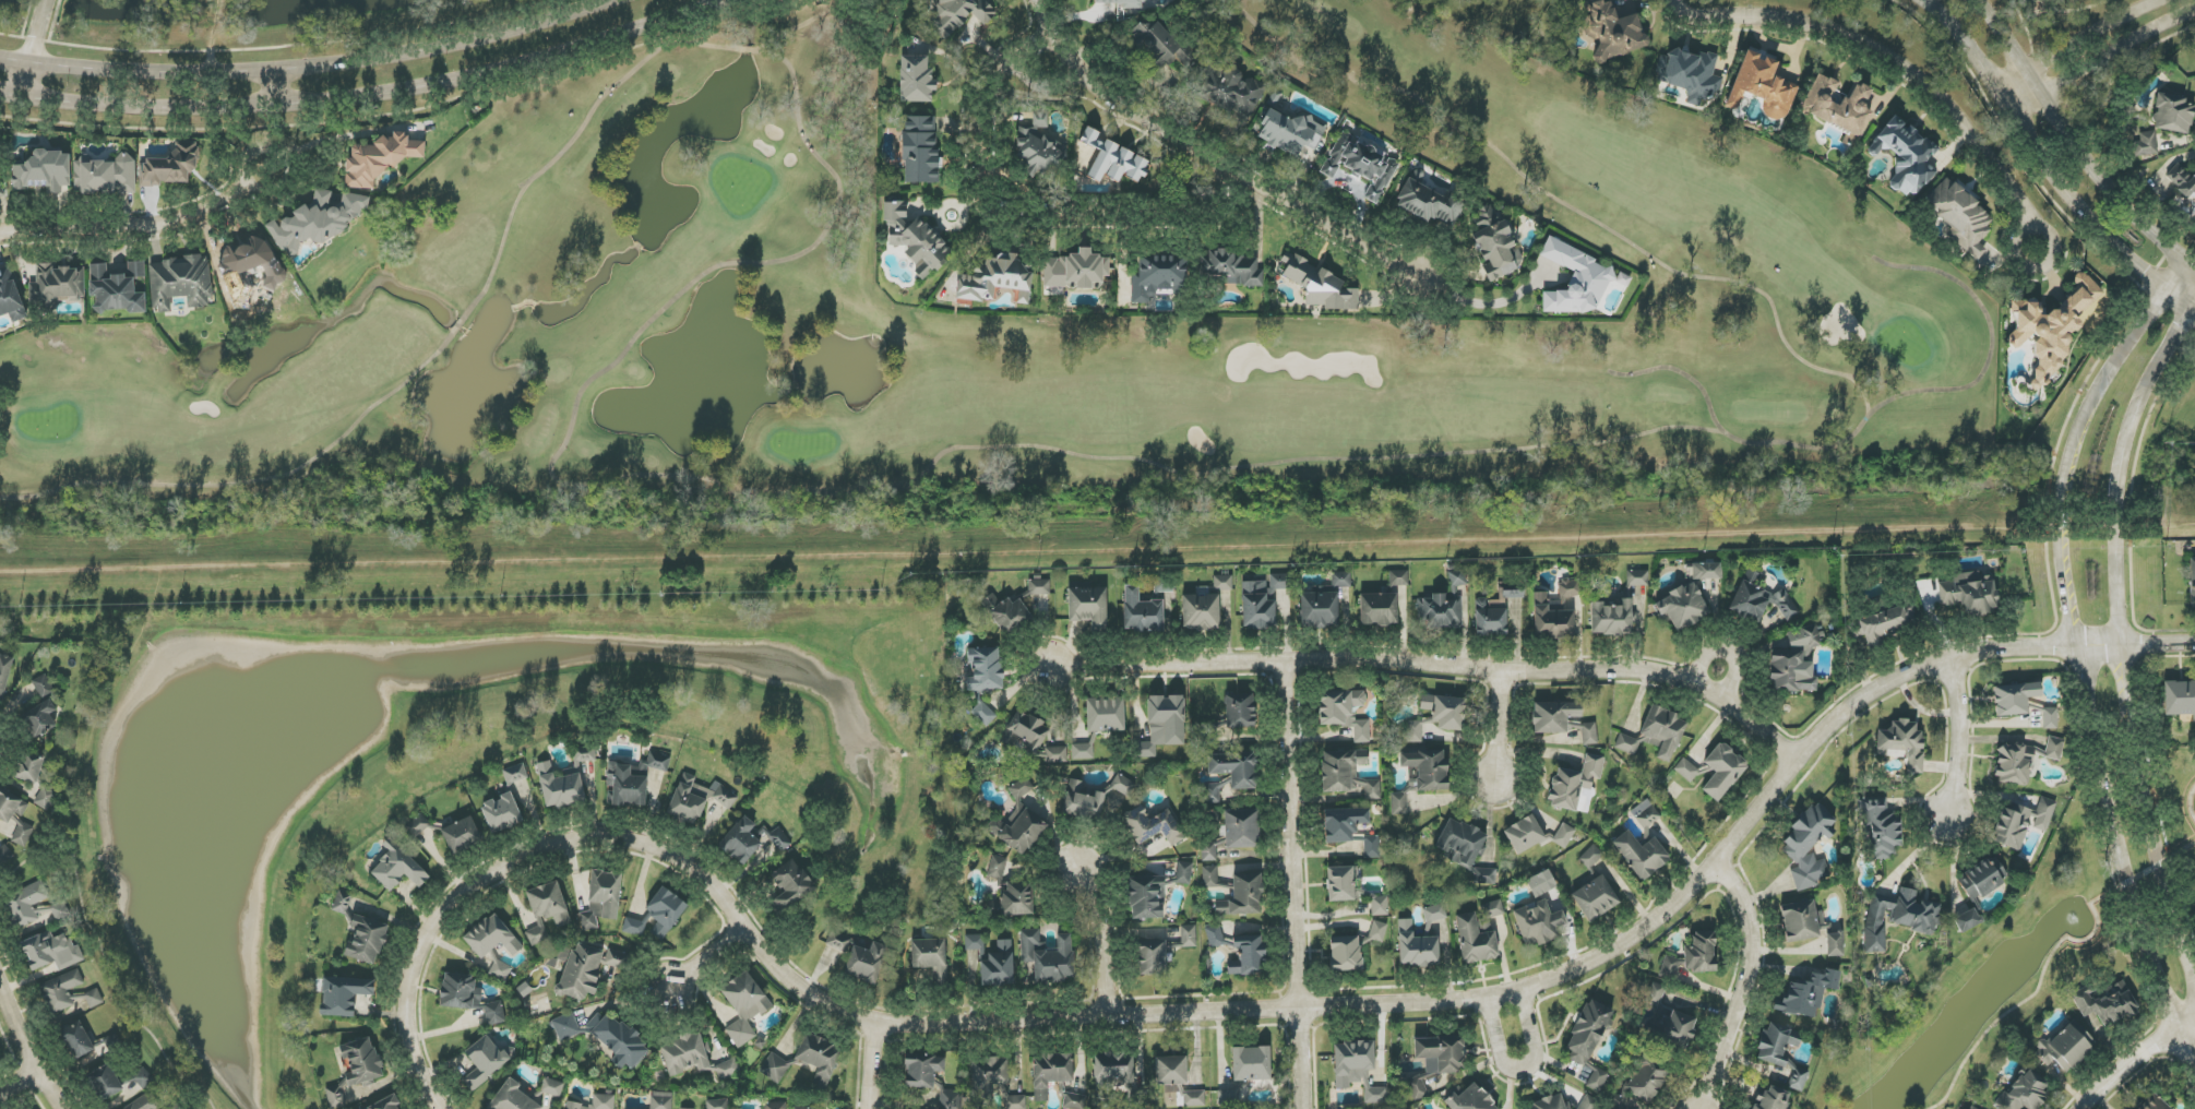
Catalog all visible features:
building: (1121, 3)
park: (294, 12)
building: (961, 14)
building: (1612, 31)
road: (213, 36)
road: (2080, 40)
building: (1158, 46)
road: (35, 48)
road: (1883, 59)
road: (2103, 59)
road: (312, 65)
building: (1690, 74)
building: (916, 79)
road: (283, 83)
building: (1763, 86)
road: (371, 92)
building: (1839, 105)
building: (2173, 114)
building: (1289, 132)
road: (351, 136)
building: (2145, 144)
building: (1038, 146)
road: (2073, 146)
building: (920, 150)
road: (291, 156)
building: (1906, 156)
building: (379, 159)
building: (1114, 160)
road: (1206, 162)
building: (170, 166)
building: (1362, 166)
road: (2048, 167)
building: (44, 171)
building: (1418, 175)
building: (106, 176)
building: (2182, 180)
building: (1, 192)
building: (1428, 203)
building: (3, 205)
building: (1961, 217)
building: (317, 220)
road: (1017, 222)
road: (127, 230)
building: (914, 239)
building: (1495, 245)
building: (249, 266)
building: (1231, 267)
road: (2037, 267)
building: (1076, 270)
building: (1158, 277)
building: (995, 279)
building: (1575, 279)
building: (180, 282)
building: (1320, 285)
building: (57, 286)
building: (118, 288)
building: (10, 298)
road: (1486, 303)
building: (2055, 325)
park: (1017, 326)
building: (1706, 571)
building: (1398, 579)
building: (1457, 579)
building: (1637, 579)
building: (1341, 580)
building: (2192, 582)
building: (1222, 583)
building: (1039, 587)
building: (1969, 593)
building: (1264, 600)
building: (1761, 604)
building: (1088, 607)
building: (1681, 607)
building: (1319, 609)
building: (1379, 609)
building: (1440, 611)
building: (1142, 612)
building: (1201, 612)
building: (1555, 612)
building: (1006, 613)
building: (1612, 619)
building: (1880, 625)
road: (2118, 629)
road: (1727, 651)
road: (2075, 658)
building: (1794, 660)
road: (1440, 667)
building: (983, 669)
building: (4, 673)
building: (43, 687)
building: (2014, 697)
building: (2179, 697)
building: (1240, 711)
building: (1444, 711)
building: (1344, 712)
building: (985, 714)
building: (1105, 714)
building: (1553, 716)
building: (2050, 718)
building: (39, 720)
building: (1164, 724)
road: (1502, 726)
building: (1413, 731)
building: (1025, 732)
building: (1589, 734)
building: (1656, 735)
road: (1958, 737)
building: (1902, 744)
building: (2054, 749)
building: (1083, 751)
building: (584, 754)
building: (1057, 754)
building: (2014, 764)
building: (29, 767)
building: (1236, 768)
building: (1686, 771)
building: (1722, 771)
building: (1347, 773)
building: (515, 774)
building: (632, 780)
building: (1123, 785)
building: (1575, 785)
building: (559, 787)
building: (1212, 794)
building: (697, 799)
building: (1082, 801)
building: (1398, 803)
road: (2191, 804)
building: (10, 806)
building: (501, 813)
building: (1645, 813)
building: (2021, 822)
building: (1018, 824)
building: (1344, 824)
building: (418, 825)
building: (1152, 826)
building: (1881, 827)
building: (1241, 828)
building: (462, 834)
building: (23, 835)
building: (1535, 835)
building: (740, 840)
building: (775, 840)
building: (1809, 846)
building: (1371, 847)
building: (1466, 849)
building: (1208, 851)
building: (4, 855)
building: (1641, 855)
building: (1590, 857)
building: (396, 868)
building: (998, 869)
building: (1183, 873)
building: (1209, 877)
building: (1981, 880)
building: (1343, 883)
building: (1540, 883)
building: (790, 885)
road: (1296, 886)
building: (1243, 896)
building: (1147, 897)
building: (603, 898)
building: (1016, 898)
building: (1595, 898)
building: (24, 906)
building: (1380, 906)
building: (547, 910)
building: (1492, 910)
building: (666, 911)
building: (52, 914)
building: (1434, 914)
building: (1898, 917)
fountain: (2076, 919)
building: (1967, 920)
building: (1802, 921)
building: (1538, 923)
building: (634, 927)
building: (1377, 931)
building: (1189, 935)
building: (1214, 937)
building: (492, 938)
building: (367, 940)
building: (836, 940)
building: (1475, 940)
building: (974, 942)
road: (1102, 942)
building: (1835, 944)
building: (1416, 947)
building: (51, 952)
building: (1345, 953)
building: (1701, 953)
road: (2051, 953)
building: (1249, 955)
building: (1048, 956)
building: (930, 957)
building: (1152, 957)
building: (615, 959)
road: (704, 962)
building: (868, 964)
building: (998, 966)
building: (1670, 967)
building: (500, 969)
building: (581, 971)
road: (1750, 988)
building: (60, 991)
building: (1654, 993)
building: (1808, 993)
building: (344, 994)
building: (467, 997)
building: (94, 999)
building: (2105, 1003)
building: (744, 1006)
road: (1227, 1013)
building: (565, 1027)
building: (1677, 1029)
building: (1588, 1034)
building: (77, 1041)
building: (620, 1041)
building: (2065, 1048)
road: (26, 1049)
building: (1781, 1051)
building: (1441, 1053)
building: (685, 1054)
building: (0, 1056)
building: (816, 1057)
road: (2136, 1059)
building: (361, 1061)
building: (485, 1061)
building: (1251, 1063)
building: (774, 1068)
building: (728, 1069)
building: (1357, 1069)
road: (870, 1070)
building: (1113, 1070)
road: (1522, 1070)
building: (922, 1072)
building: (1171, 1072)
building: (1050, 1073)
building: (987, 1077)
building: (1597, 1081)
building: (104, 1083)
road: (17, 1086)
building: (551, 1087)
building: (2024, 1093)
building: (512, 1098)
building: (1194, 1098)
building: (1227, 1098)
building: (951, 1099)
building: (1469, 1099)
building: (1773, 1099)
building: (661, 1100)
building: (1013, 1100)
building: (1074, 1101)
building: (595, 1102)
building: (145, 1104)
building: (717, 1104)
building: (2154, 1104)
building: (385, 1105)
building: (1560, 1105)
building: (774, 1106)
building: (174, 1107)
building: (802, 1108)
building: (1971, 1108)

